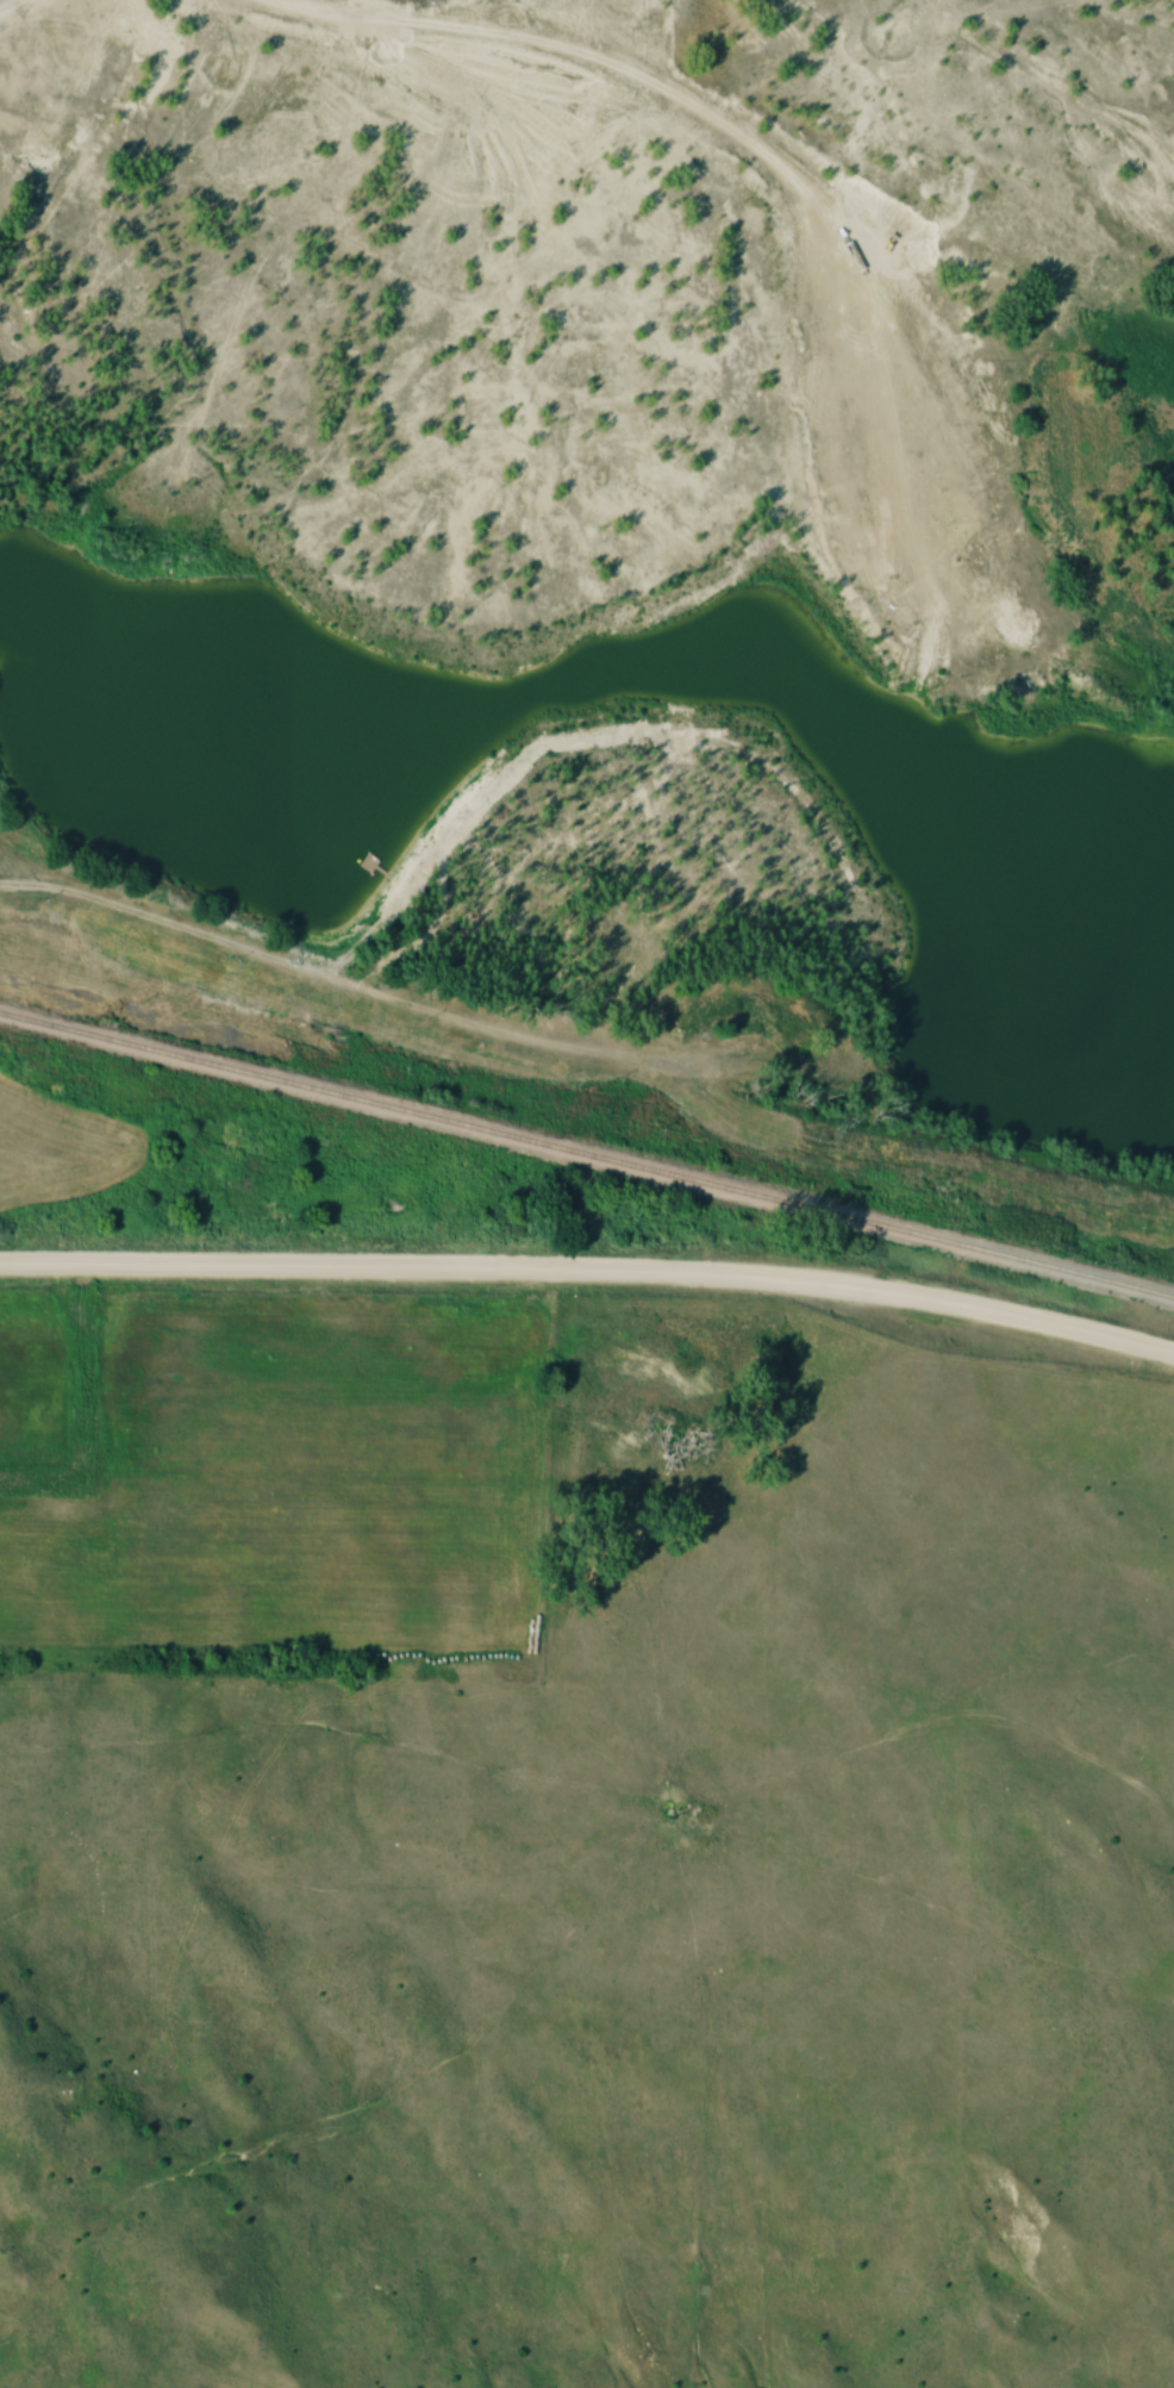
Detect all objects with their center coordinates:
railway: (587, 1154)
road: (591, 1282)

